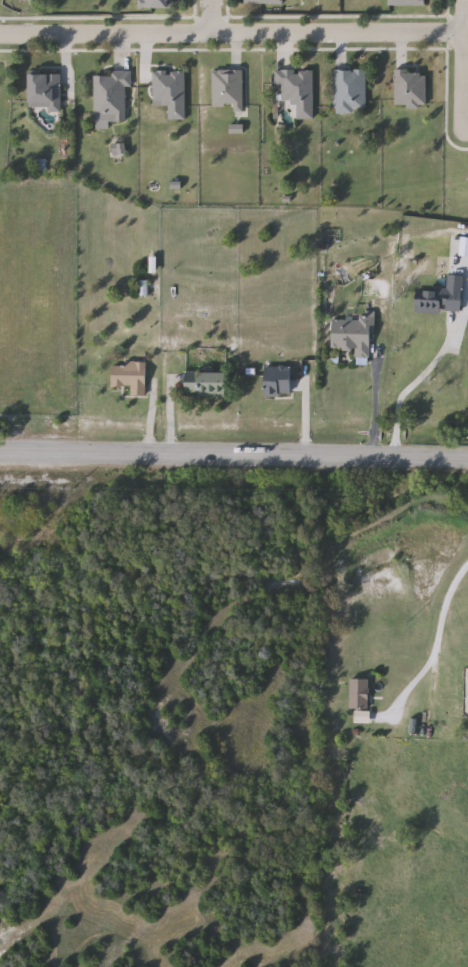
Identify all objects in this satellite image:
building: (265, 2)
building: (407, 3)
building: (157, 4)
road: (208, 17)
road: (230, 34)
road: (461, 67)
building: (226, 90)
building: (409, 90)
building: (44, 91)
building: (295, 92)
building: (349, 93)
building: (169, 94)
building: (110, 96)
road: (465, 134)
building: (441, 299)
building: (352, 337)
building: (129, 378)
building: (278, 382)
building: (206, 385)
road: (401, 393)
road: (372, 414)
road: (233, 458)
road: (438, 625)
building: (358, 694)
building: (357, 730)

